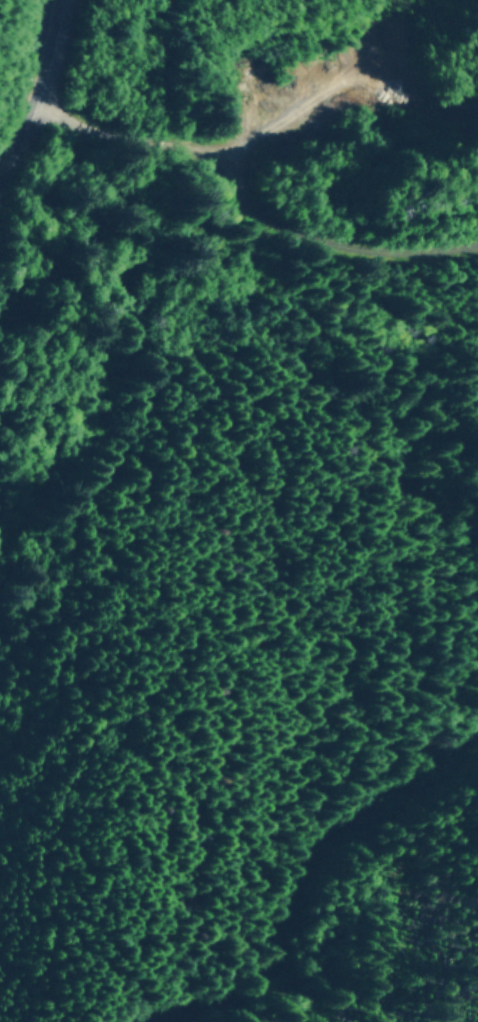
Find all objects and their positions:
road: (31, 97)
road: (246, 197)
road: (315, 870)

